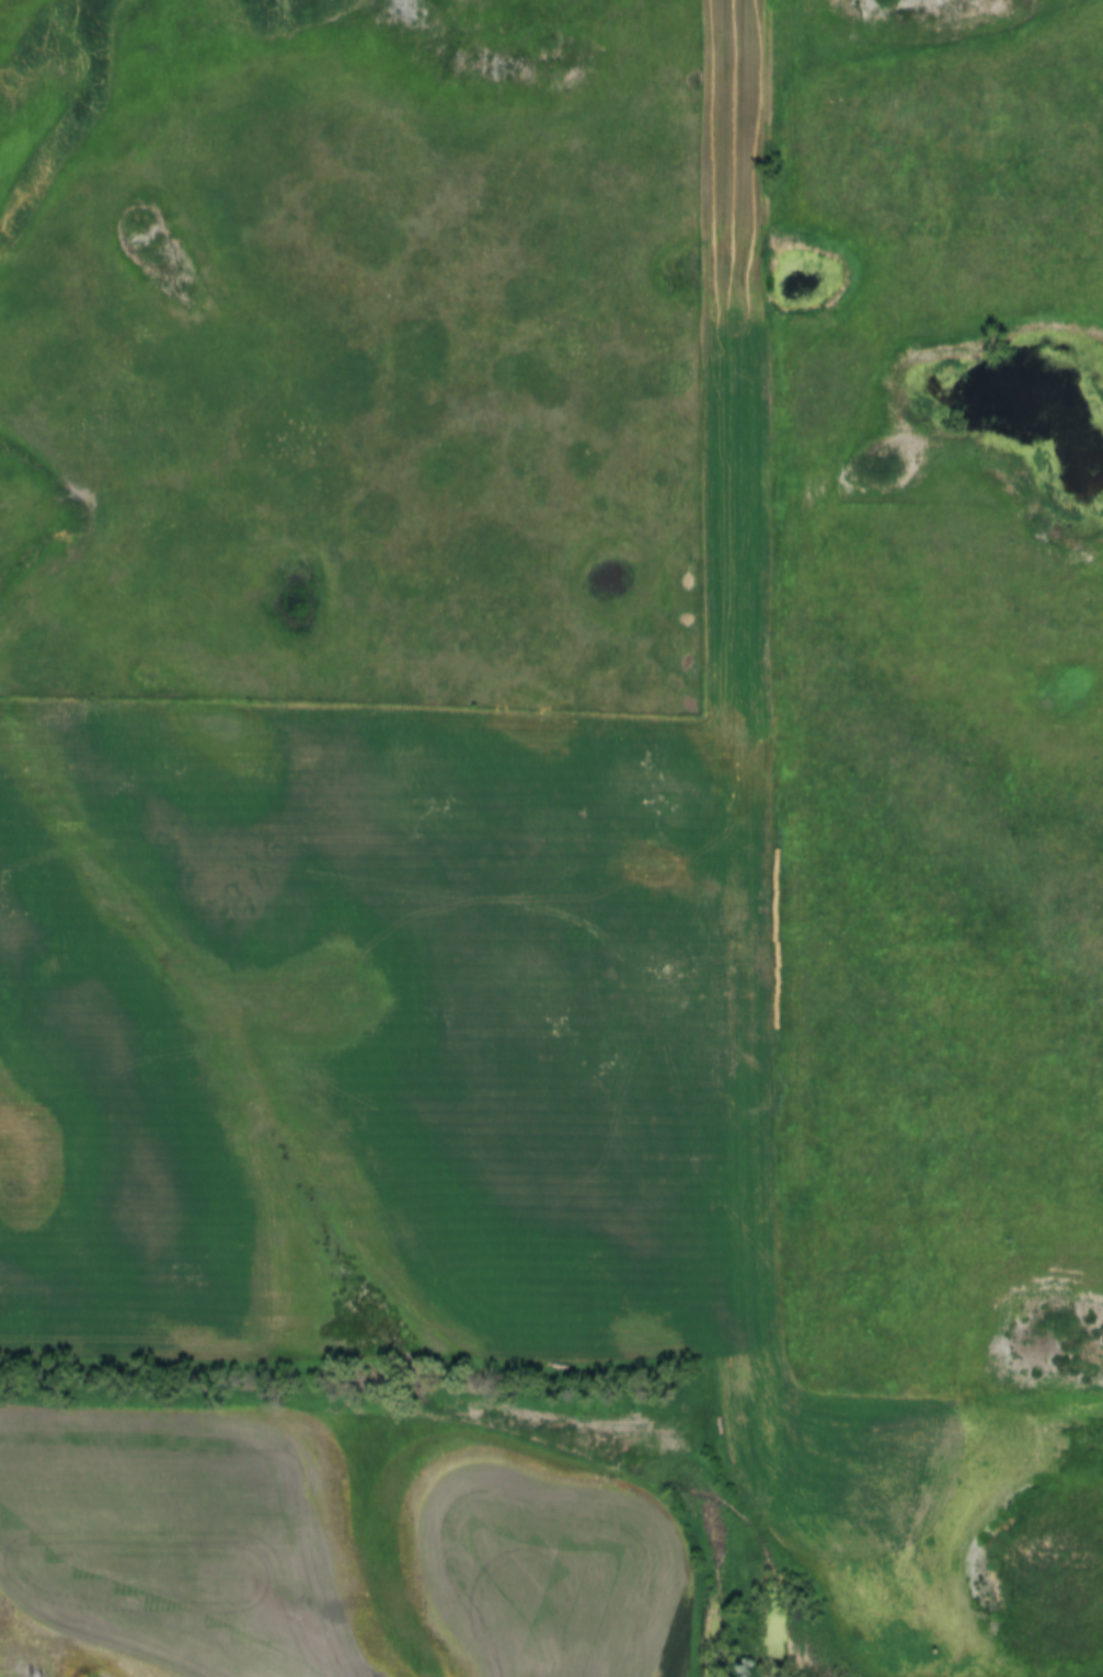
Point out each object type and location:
road: (777, 1645)

